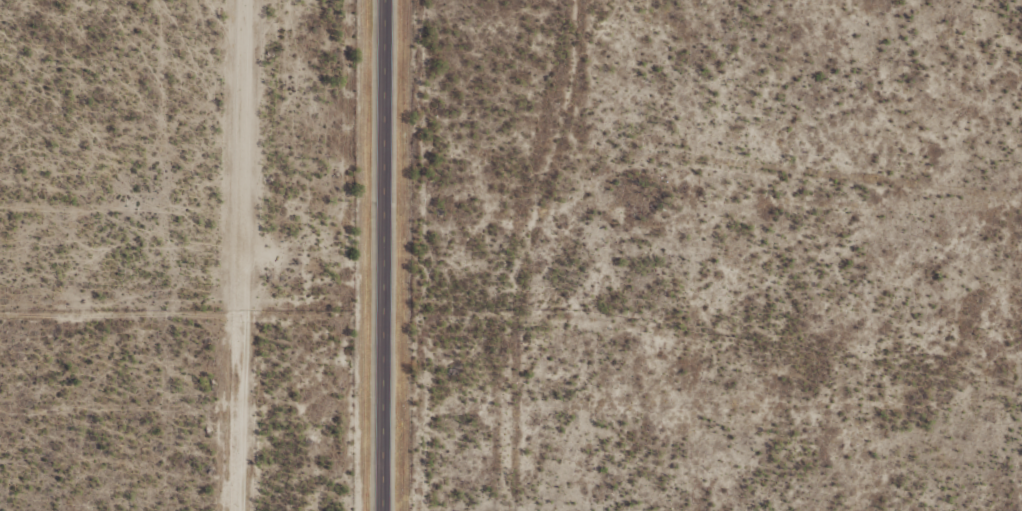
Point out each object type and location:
road: (701, 167)
road: (379, 255)

